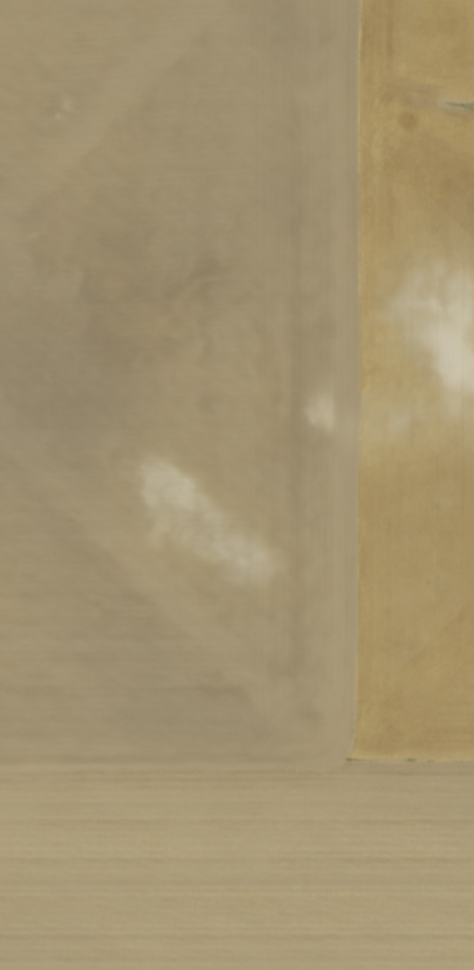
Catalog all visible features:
crop: (237, 485)

